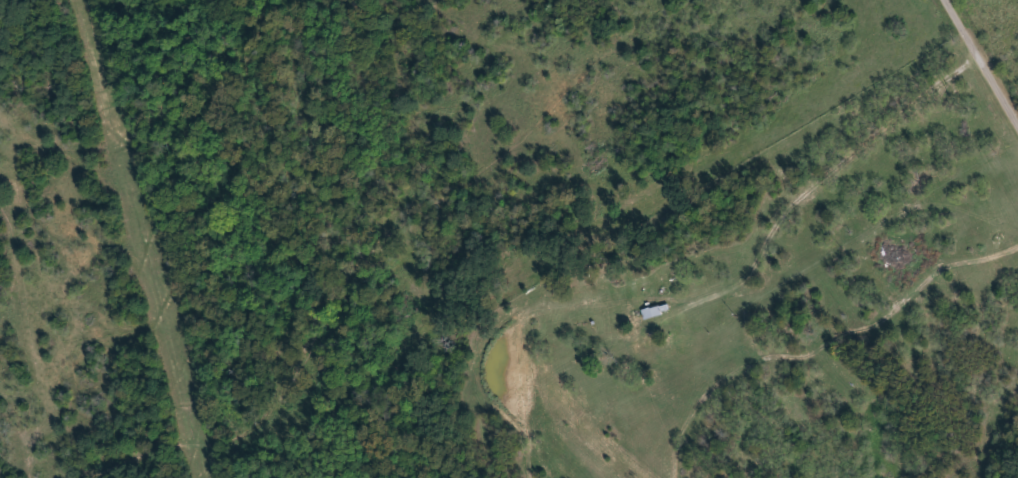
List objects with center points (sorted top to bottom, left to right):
road: (981, 62)
road: (813, 185)
building: (655, 311)

